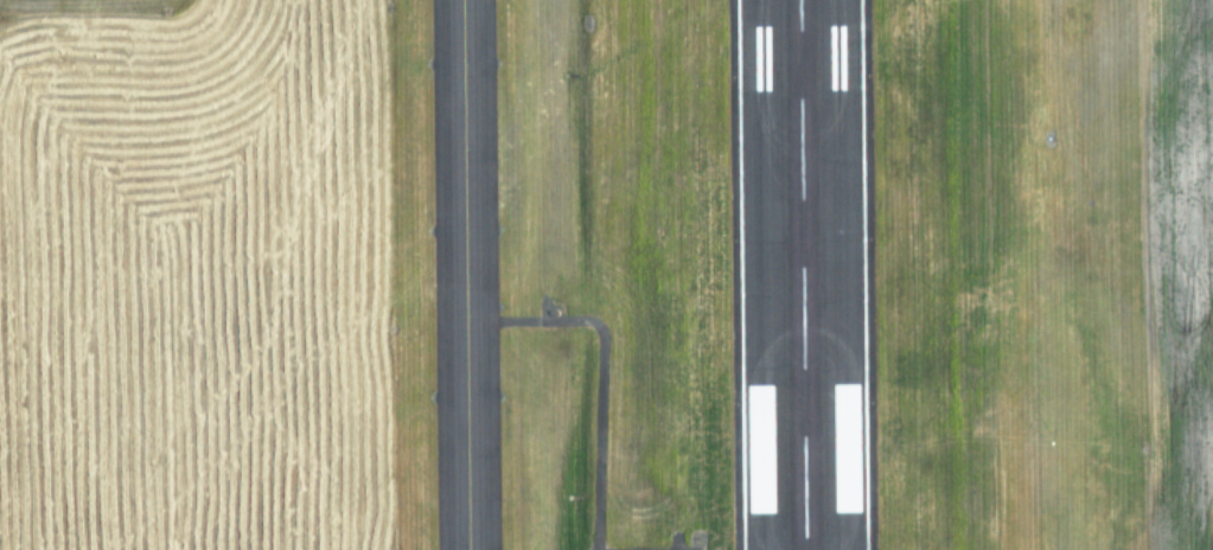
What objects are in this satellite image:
crop: (1049, 274)
airport taxiway: (462, 275)
airport: (606, 275)
airport runway: (800, 275)
crop: (211, 276)

